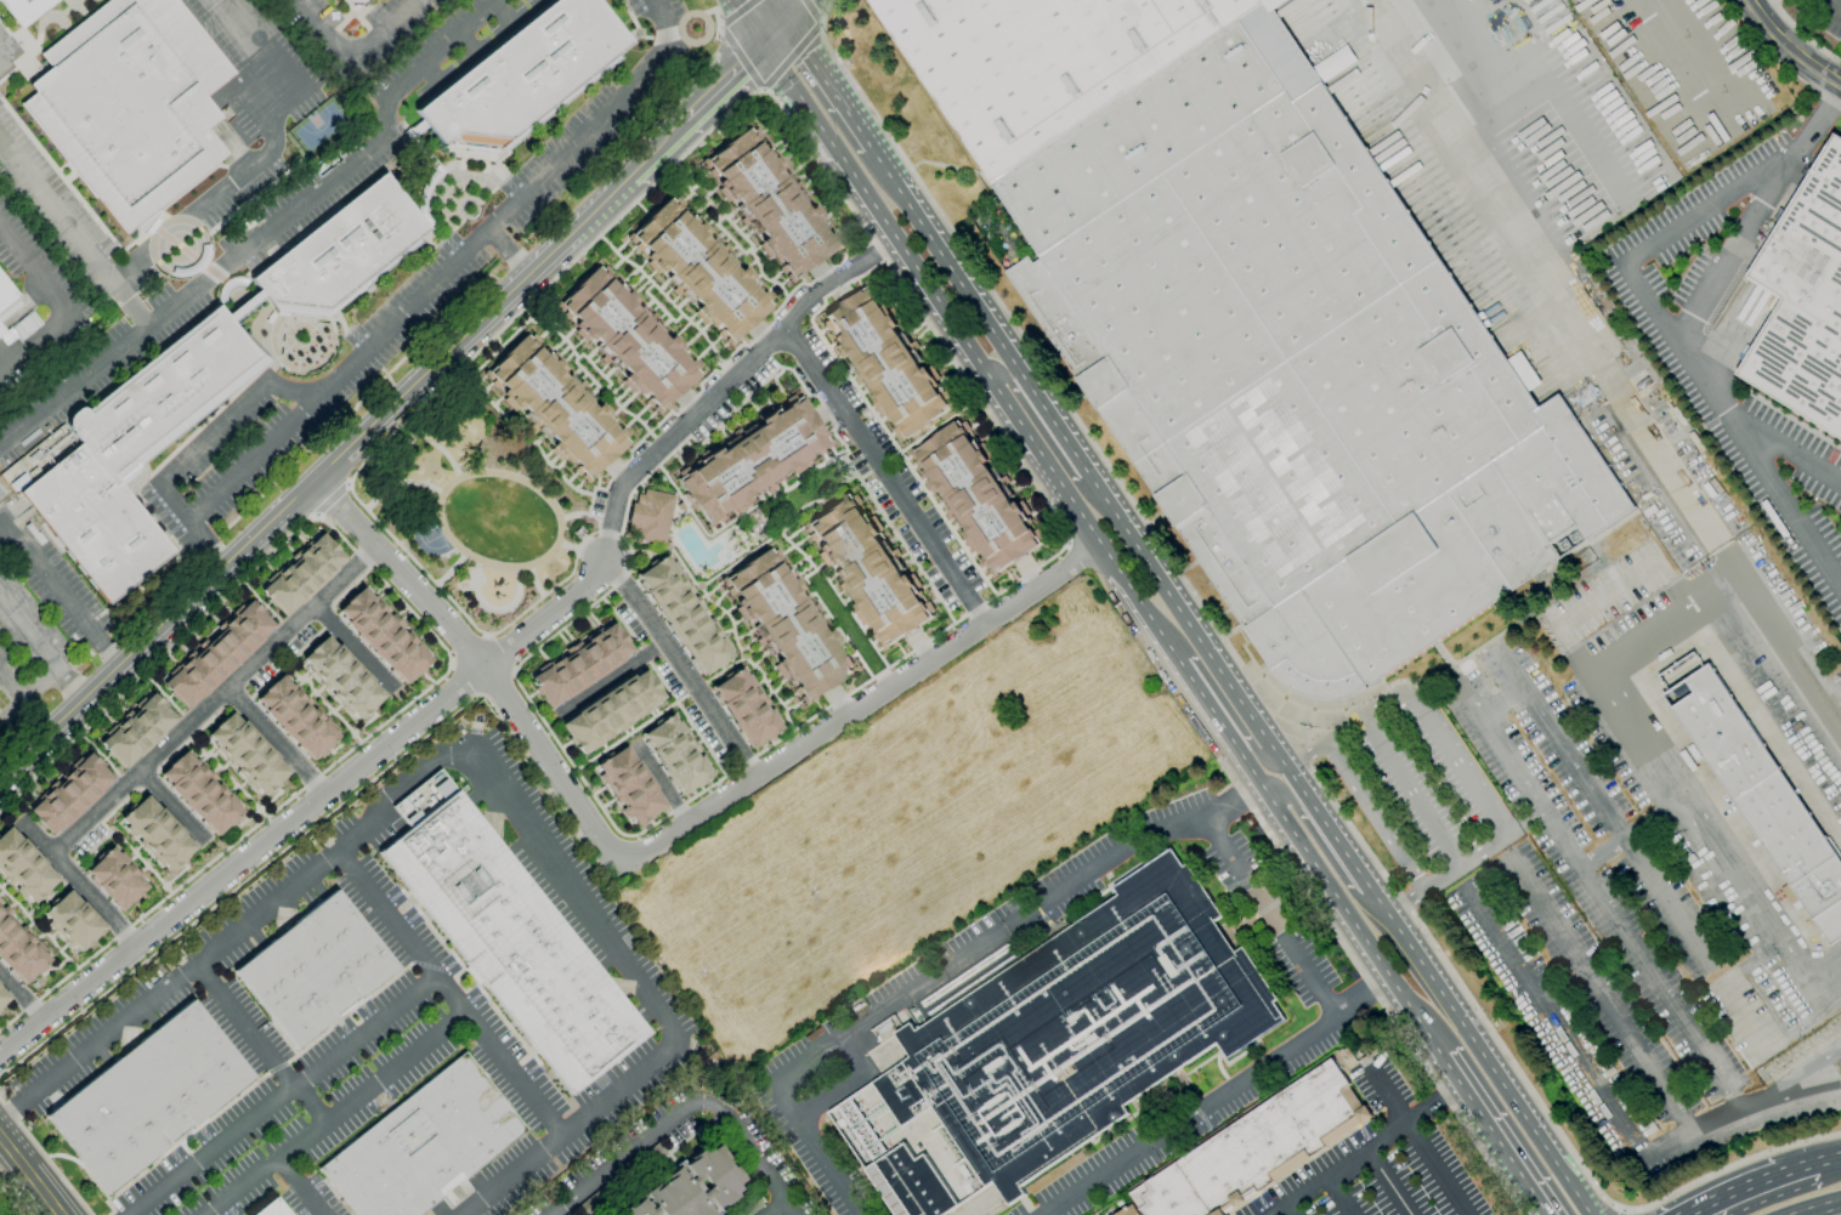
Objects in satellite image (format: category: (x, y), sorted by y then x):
road: (1750, 1)
building: (355, 4)
road: (1837, 5)
road: (1832, 7)
building: (26, 10)
road: (778, 11)
road: (797, 11)
road: (737, 12)
road: (812, 12)
road: (693, 13)
road: (718, 15)
road: (752, 21)
road: (776, 33)
road: (1802, 35)
road: (1788, 49)
road: (351, 51)
road: (791, 56)
road: (741, 57)
road: (1775, 61)
building: (525, 74)
road: (725, 84)
road: (827, 85)
building: (131, 104)
road: (771, 125)
park: (319, 127)
road: (782, 146)
road: (772, 147)
road: (656, 152)
road: (797, 157)
road: (262, 159)
road: (799, 168)
road: (947, 168)
road: (805, 178)
road: (800, 187)
road: (815, 191)
road: (710, 192)
road: (686, 198)
building: (769, 204)
road: (825, 204)
road: (642, 209)
road: (699, 210)
road: (710, 210)
road: (1703, 210)
road: (56, 211)
road: (731, 214)
road: (1757, 214)
road: (736, 220)
road: (710, 221)
road: (743, 227)
road: (843, 228)
road: (721, 229)
road: (264, 231)
road: (748, 233)
road: (716, 238)
road: (723, 244)
road: (622, 246)
road: (754, 249)
road: (730, 251)
road: (511, 252)
road: (735, 256)
road: (622, 260)
road: (944, 260)
road: (753, 262)
road: (764, 262)
building: (698, 271)
road: (631, 272)
road: (822, 272)
road: (650, 274)
road: (763, 277)
road: (775, 277)
road: (801, 278)
road: (755, 279)
road: (783, 283)
road: (634, 284)
road: (857, 284)
road: (664, 285)
road: (640, 289)
road: (769, 290)
road: (669, 291)
road: (839, 291)
building: (6, 293)
road: (678, 297)
road: (667, 299)
road: (63, 300)
building: (1802, 300)
road: (681, 302)
road: (129, 303)
road: (646, 306)
road: (658, 306)
road: (651, 312)
road: (403, 314)
road: (538, 317)
road: (691, 318)
road: (658, 319)
road: (696, 323)
building: (1261, 323)
road: (663, 325)
building: (18, 329)
road: (549, 329)
building: (1, 330)
road: (680, 331)
road: (760, 333)
road: (919, 336)
road: (692, 339)
building: (627, 340)
road: (559, 342)
road: (965, 344)
road: (504, 345)
road: (743, 345)
road: (924, 345)
road: (721, 348)
road: (704, 352)
road: (929, 352)
road: (561, 353)
road: (591, 353)
road: (566, 359)
road: (597, 359)
building: (886, 364)
road: (940, 365)
road: (605, 367)
road: (610, 371)
road: (386, 373)
road: (1603, 373)
road: (573, 375)
road: (588, 375)
road: (946, 377)
road: (481, 380)
road: (579, 380)
road: (610, 384)
road: (727, 384)
road: (777, 387)
building: (200, 388)
road: (587, 388)
road: (487, 390)
road: (616, 390)
road: (805, 390)
road: (591, 393)
road: (622, 396)
road: (766, 399)
road: (497, 402)
road: (690, 402)
road: (605, 403)
road: (621, 407)
building: (554, 408)
road: (754, 408)
road: (350, 409)
road: (826, 409)
road: (505, 411)
road: (873, 416)
road: (631, 419)
road: (648, 419)
road: (742, 420)
road: (1052, 422)
road: (736, 424)
road: (1037, 427)
road: (1732, 428)
road: (931, 430)
road: (729, 432)
road: (829, 432)
road: (525, 433)
road: (721, 435)
road: (436, 445)
road: (708, 445)
road: (703, 449)
road: (693, 450)
road: (1791, 450)
road: (548, 455)
road: (908, 458)
road: (250, 459)
road: (826, 459)
road: (680, 460)
road: (553, 461)
building: (753, 461)
road: (560, 465)
road: (878, 465)
road: (912, 467)
road: (617, 470)
road: (863, 475)
road: (884, 475)
road: (798, 477)
road: (571, 478)
building: (17, 479)
road: (316, 481)
road: (597, 481)
road: (923, 481)
road: (401, 482)
road: (578, 484)
road: (782, 484)
road: (594, 489)
road: (788, 489)
road: (381, 493)
road: (929, 493)
building: (975, 499)
road: (863, 500)
park: (475, 505)
road: (939, 505)
road: (748, 509)
road: (873, 513)
road: (573, 515)
road: (735, 515)
building: (648, 517)
road: (879, 521)
road: (721, 523)
road: (884, 527)
road: (953, 527)
road: (713, 529)
road: (702, 532)
road: (797, 533)
park: (430, 535)
road: (891, 541)
road: (962, 543)
road: (795, 545)
road: (568, 546)
road: (896, 547)
road: (965, 549)
road: (799, 550)
road: (970, 555)
road: (902, 556)
road: (743, 557)
road: (801, 561)
road: (906, 562)
road: (418, 564)
road: (531, 564)
road: (822, 566)
road: (452, 569)
road: (982, 569)
building: (869, 570)
road: (801, 572)
road: (811, 573)
road: (1029, 573)
building: (302, 575)
road: (917, 575)
road: (987, 578)
road: (1009, 579)
road: (534, 581)
road: (800, 583)
road: (923, 587)
road: (345, 590)
road: (379, 591)
road: (712, 592)
road: (61, 595)
road: (383, 596)
road: (720, 597)
road: (809, 597)
road: (259, 602)
road: (493, 609)
road: (731, 609)
road: (398, 614)
road: (854, 614)
building: (684, 615)
road: (719, 617)
road: (403, 619)
road: (594, 619)
road: (823, 619)
road: (859, 620)
road: (1662, 620)
road: (589, 623)
road: (737, 623)
building: (784, 625)
road: (725, 631)
road: (833, 631)
road: (29, 632)
road: (744, 635)
road: (568, 636)
building: (383, 637)
road: (421, 637)
road: (562, 640)
road: (438, 642)
road: (873, 642)
road: (840, 643)
road: (748, 645)
road: (919, 646)
road: (353, 647)
road: (901, 652)
building: (219, 654)
road: (544, 657)
road: (746, 657)
road: (851, 657)
road: (759, 658)
road: (481, 662)
building: (580, 665)
road: (679, 666)
road: (231, 669)
road: (725, 670)
road: (767, 671)
road: (305, 674)
road: (310, 676)
building: (342, 677)
road: (427, 677)
road: (612, 679)
road: (771, 679)
road: (294, 681)
road: (70, 683)
road: (758, 683)
road: (299, 685)
road: (664, 686)
road: (321, 689)
road: (696, 689)
road: (775, 692)
road: (28, 693)
road: (532, 694)
road: (160, 695)
road: (251, 695)
road: (310, 695)
road: (214, 699)
road: (1202, 699)
road: (788, 700)
road: (837, 700)
road: (322, 702)
road: (1500, 703)
road: (859, 704)
road: (793, 706)
road: (818, 706)
road: (1224, 706)
road: (338, 708)
building: (746, 709)
road: (1269, 709)
building: (611, 711)
road: (327, 715)
building: (298, 716)
road: (202, 727)
building: (136, 732)
road: (630, 732)
road: (353, 734)
road: (276, 740)
road: (771, 742)
road: (210, 751)
road: (98, 755)
road: (214, 755)
building: (675, 755)
road: (198, 756)
building: (247, 756)
road: (202, 760)
road: (223, 766)
road: (1457, 767)
road: (214, 771)
road: (1252, 772)
road: (226, 776)
road: (661, 782)
road: (240, 785)
building: (629, 787)
building: (1756, 789)
building: (200, 790)
road: (231, 790)
road: (401, 791)
building: (70, 794)
road: (146, 794)
road: (1410, 794)
road: (172, 806)
road: (1599, 808)
road: (305, 810)
road: (257, 811)
road: (72, 818)
road: (1372, 819)
building: (157, 834)
road: (121, 839)
road: (1337, 844)
road: (1712, 845)
road: (137, 850)
road: (96, 853)
road: (1325, 853)
road: (131, 859)
road: (147, 861)
building: (22, 869)
road: (141, 870)
road: (179, 874)
building: (115, 879)
road: (78, 881)
road: (1, 893)
road: (50, 896)
building: (1789, 896)
road: (49, 898)
road: (1601, 901)
road: (10, 908)
building: (73, 921)
road: (1353, 922)
road: (1268, 925)
road: (27, 927)
road: (38, 929)
road: (53, 935)
road: (39, 938)
building: (512, 941)
road: (63, 948)
building: (18, 950)
road: (194, 966)
road: (51, 967)
building: (315, 969)
road: (918, 986)
road: (1370, 988)
road: (451, 992)
road: (650, 995)
road: (21, 997)
building: (2, 998)
road: (1603, 998)
road: (4, 1021)
road: (245, 1027)
building: (1082, 1028)
road: (1575, 1055)
road: (1813, 1063)
road: (1822, 1089)
road: (285, 1095)
building: (149, 1096)
road: (311, 1103)
road: (13, 1112)
road: (335, 1113)
road: (1186, 1119)
road: (1484, 1123)
building: (424, 1145)
road: (1418, 1145)
building: (1257, 1148)
road: (1361, 1149)
road: (631, 1151)
road: (45, 1157)
road: (755, 1159)
road: (1826, 1159)
building: (645, 1160)
road: (1795, 1168)
road: (288, 1170)
road: (29, 1176)
parking lot: (1382, 1177)
road: (1386, 1181)
building: (911, 1185)
building: (691, 1187)
road: (1579, 1187)
road: (1729, 1192)
road: (1337, 1194)
building: (601, 1196)
road: (310, 1198)
road: (10, 1202)
road: (1534, 1203)
road: (1537, 1203)
building: (750, 1205)
road: (1291, 1208)
road: (1819, 1208)
building: (272, 1209)
road: (778, 1209)
building: (1131, 1211)
road: (1620, 1211)

